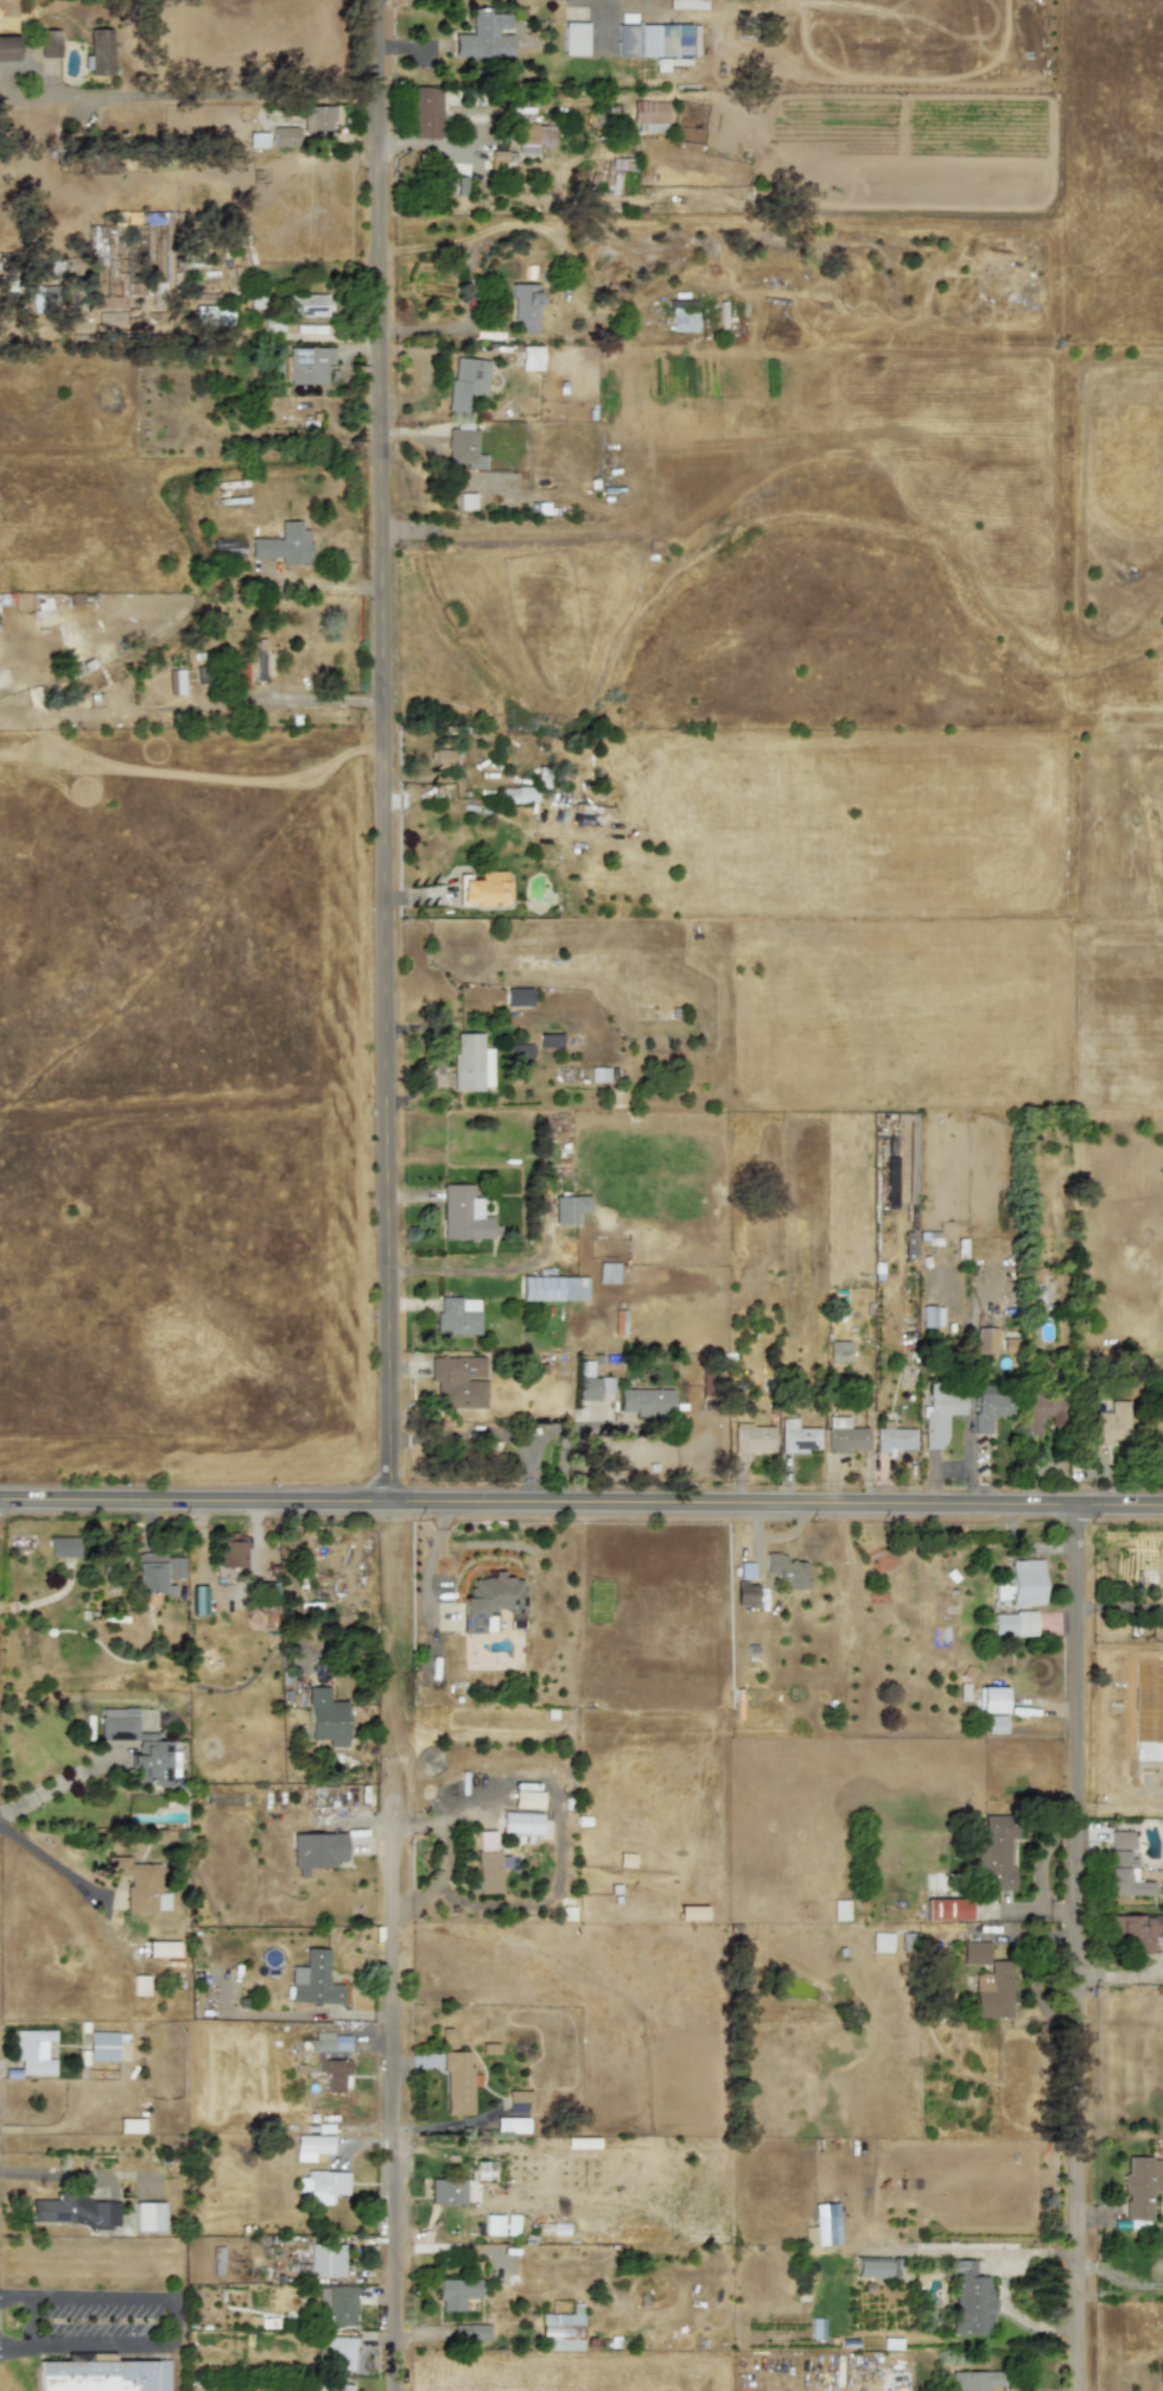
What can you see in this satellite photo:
building: (685, 4)
road: (599, 19)
building: (484, 37)
building: (574, 38)
building: (653, 40)
building: (49, 43)
building: (7, 47)
building: (98, 52)
building: (668, 63)
road: (198, 96)
building: (425, 112)
building: (649, 116)
building: (317, 118)
building: (284, 135)
building: (534, 137)
building: (256, 139)
building: (497, 158)
building: (457, 184)
building: (96, 240)
building: (148, 255)
building: (43, 298)
building: (312, 304)
building: (525, 305)
building: (214, 315)
building: (684, 316)
road: (441, 329)
building: (530, 357)
building: (306, 364)
building: (466, 381)
building: (273, 405)
building: (463, 446)
building: (466, 501)
building: (284, 544)
building: (228, 547)
building: (5, 598)
building: (176, 681)
road: (386, 753)
building: (441, 759)
road: (192, 760)
building: (515, 794)
building: (484, 889)
building: (517, 996)
building: (548, 1040)
building: (521, 1051)
road: (439, 1055)
building: (471, 1061)
building: (568, 1209)
building: (463, 1213)
building: (909, 1245)
road: (477, 1269)
building: (608, 1271)
building: (553, 1288)
building: (457, 1315)
building: (930, 1317)
building: (985, 1339)
building: (839, 1351)
building: (458, 1381)
building: (591, 1382)
building: (646, 1401)
building: (990, 1406)
building: (1038, 1409)
building: (940, 1414)
building: (1111, 1423)
building: (844, 1435)
building: (799, 1436)
building: (754, 1439)
building: (894, 1439)
road: (195, 1505)
road: (776, 1508)
building: (62, 1547)
building: (233, 1552)
building: (787, 1571)
building: (148, 1578)
building: (1027, 1583)
road: (293, 1586)
building: (1003, 1592)
building: (746, 1594)
building: (492, 1603)
road: (1118, 1606)
building: (1015, 1624)
building: (992, 1700)
building: (326, 1718)
building: (994, 1725)
building: (154, 1748)
road: (65, 1780)
building: (527, 1799)
building: (520, 1822)
building: (1120, 1840)
building: (316, 1851)
building: (994, 1853)
building: (625, 1859)
road: (443, 1860)
building: (488, 1863)
road: (55, 1865)
building: (1124, 1876)
building: (138, 1883)
building: (840, 1909)
building: (946, 1909)
building: (691, 1913)
building: (1137, 1930)
building: (882, 1942)
building: (161, 1948)
road: (1075, 1951)
road: (1119, 1975)
building: (313, 1979)
building: (989, 1981)
building: (140, 1985)
building: (330, 2042)
building: (103, 2046)
building: (33, 2051)
building: (332, 2068)
building: (457, 2082)
road: (393, 2092)
building: (517, 2101)
building: (131, 2125)
building: (510, 2125)
building: (314, 2144)
building: (483, 2170)
road: (26, 2171)
road: (78, 2174)
building: (325, 2186)
building: (1139, 2186)
building: (447, 2192)
building: (75, 2211)
building: (148, 2215)
building: (511, 2224)
building: (494, 2225)
building: (825, 2225)
building: (217, 2259)
building: (323, 2260)
building: (870, 2266)
building: (456, 2292)
road: (13, 2294)
road: (98, 2294)
building: (968, 2300)
building: (337, 2306)
road: (27, 2319)
road: (171, 2319)
building: (561, 2329)
building: (471, 2332)
road: (13, 2344)
road: (100, 2344)
building: (336, 2352)
building: (102, 2373)
building: (974, 2380)
building: (338, 2386)

